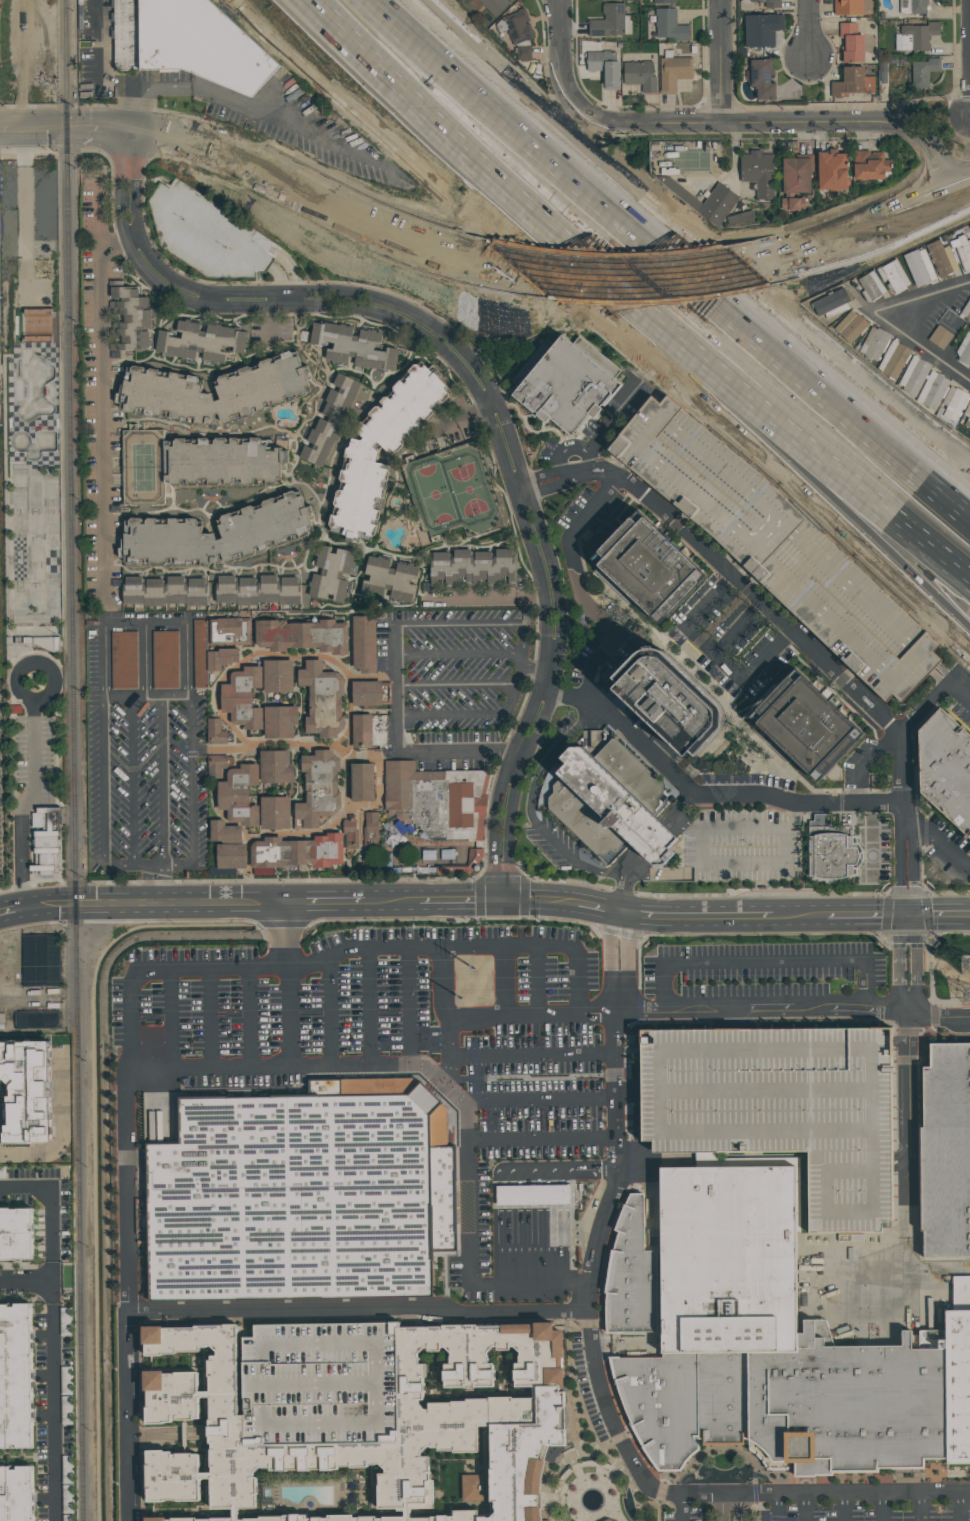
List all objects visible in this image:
building: (746, 1)
building: (662, 2)
building: (767, 3)
building: (494, 6)
building: (853, 7)
building: (912, 7)
building: (609, 23)
building: (668, 26)
building: (517, 27)
road: (803, 27)
building: (761, 31)
park: (0, 33)
building: (917, 36)
building: (188, 42)
building: (851, 44)
building: (523, 53)
road: (722, 61)
road: (558, 66)
road: (104, 67)
building: (605, 69)
building: (922, 72)
building: (675, 74)
building: (641, 77)
building: (761, 80)
building: (852, 84)
road: (240, 101)
road: (941, 118)
road: (854, 123)
road: (657, 124)
road: (101, 128)
road: (46, 129)
road: (6, 130)
road: (176, 139)
road: (534, 156)
road: (251, 164)
building: (869, 166)
building: (832, 172)
building: (760, 173)
building: (797, 173)
road: (959, 180)
road: (909, 202)
building: (721, 205)
building: (190, 224)
road: (552, 225)
road: (842, 229)
road: (100, 233)
road: (120, 244)
building: (961, 251)
building: (939, 259)
road: (537, 263)
building: (916, 269)
building: (892, 278)
building: (868, 288)
road: (216, 297)
road: (937, 298)
building: (830, 302)
road: (274, 316)
building: (968, 316)
building: (130, 320)
building: (853, 329)
building: (940, 338)
building: (204, 340)
road: (929, 343)
building: (876, 345)
building: (354, 348)
building: (965, 355)
road: (791, 360)
building: (895, 362)
building: (916, 378)
road: (469, 383)
building: (564, 386)
road: (491, 390)
building: (935, 392)
building: (217, 394)
building: (955, 405)
road: (466, 415)
road: (838, 418)
building: (967, 422)
building: (335, 424)
road: (102, 442)
road: (924, 447)
building: (386, 452)
building: (224, 464)
park: (33, 490)
road: (856, 506)
road: (886, 509)
building: (219, 537)
building: (776, 549)
building: (475, 570)
building: (647, 570)
building: (336, 575)
building: (394, 581)
building: (263, 592)
building: (167, 593)
road: (940, 599)
road: (486, 603)
road: (147, 621)
road: (460, 626)
road: (784, 628)
road: (738, 632)
building: (232, 633)
building: (304, 635)
building: (23, 640)
building: (55, 644)
building: (365, 645)
building: (202, 654)
road: (461, 655)
road: (712, 655)
road: (147, 659)
building: (225, 659)
building: (124, 662)
building: (166, 662)
road: (522, 670)
road: (540, 671)
building: (281, 677)
road: (459, 687)
road: (959, 692)
building: (373, 695)
road: (147, 697)
building: (246, 699)
building: (326, 701)
road: (399, 705)
road: (922, 708)
road: (468, 715)
building: (663, 715)
building: (283, 723)
building: (802, 732)
building: (218, 733)
building: (373, 734)
road: (461, 752)
parking lot: (35, 757)
railway: (74, 760)
building: (222, 766)
building: (279, 768)
building: (944, 773)
building: (637, 774)
road: (195, 779)
road: (136, 782)
road: (166, 782)
building: (365, 783)
building: (323, 790)
road: (705, 795)
building: (243, 796)
road: (106, 797)
road: (26, 798)
building: (435, 803)
road: (529, 810)
building: (605, 810)
building: (279, 814)
building: (227, 831)
building: (373, 832)
building: (353, 833)
building: (46, 838)
road: (785, 845)
road: (938, 845)
building: (827, 851)
road: (641, 852)
building: (323, 855)
building: (278, 856)
building: (235, 858)
parking lot: (0, 860)
road: (181, 866)
road: (152, 867)
road: (497, 881)
road: (158, 889)
road: (434, 891)
road: (325, 892)
road: (141, 895)
road: (562, 895)
road: (502, 899)
road: (939, 907)
road: (461, 908)
road: (538, 908)
road: (841, 909)
road: (698, 910)
road: (209, 913)
road: (908, 916)
road: (598, 917)
road: (867, 924)
road: (939, 924)
road: (621, 926)
road: (723, 927)
road: (460, 946)
building: (41, 960)
road: (762, 964)
power tower: (463, 969)
road: (161, 970)
road: (505, 979)
road: (539, 979)
road: (285, 980)
road: (617, 983)
road: (617, 997)
power tower: (456, 1000)
road: (409, 1006)
road: (369, 1007)
road: (709, 1009)
road: (333, 1011)
road: (252, 1019)
road: (172, 1020)
road: (211, 1020)
road: (448, 1020)
road: (534, 1056)
road: (909, 1067)
road: (207, 1071)
building: (26, 1092)
road: (457, 1099)
road: (541, 1101)
building: (781, 1110)
parking garage: (781, 1110)
road: (541, 1138)
building: (946, 1154)
road: (24, 1155)
road: (574, 1168)
building: (533, 1194)
road: (535, 1195)
building: (305, 1196)
road: (48, 1212)
building: (16, 1232)
road: (535, 1242)
road: (590, 1259)
railway: (57, 1278)
road: (527, 1279)
road: (129, 1296)
road: (357, 1311)
railway: (71, 1332)
building: (768, 1343)
road: (52, 1375)
building: (16, 1376)
building: (478, 1410)
building: (17, 1494)
road: (814, 1494)
road: (683, 1507)
road: (721, 1507)
road: (739, 1507)
road: (778, 1507)
road: (805, 1507)
road: (848, 1507)
road: (882, 1507)
road: (922, 1507)
road: (960, 1507)
building: (612, 1519)
building: (608, 1520)

